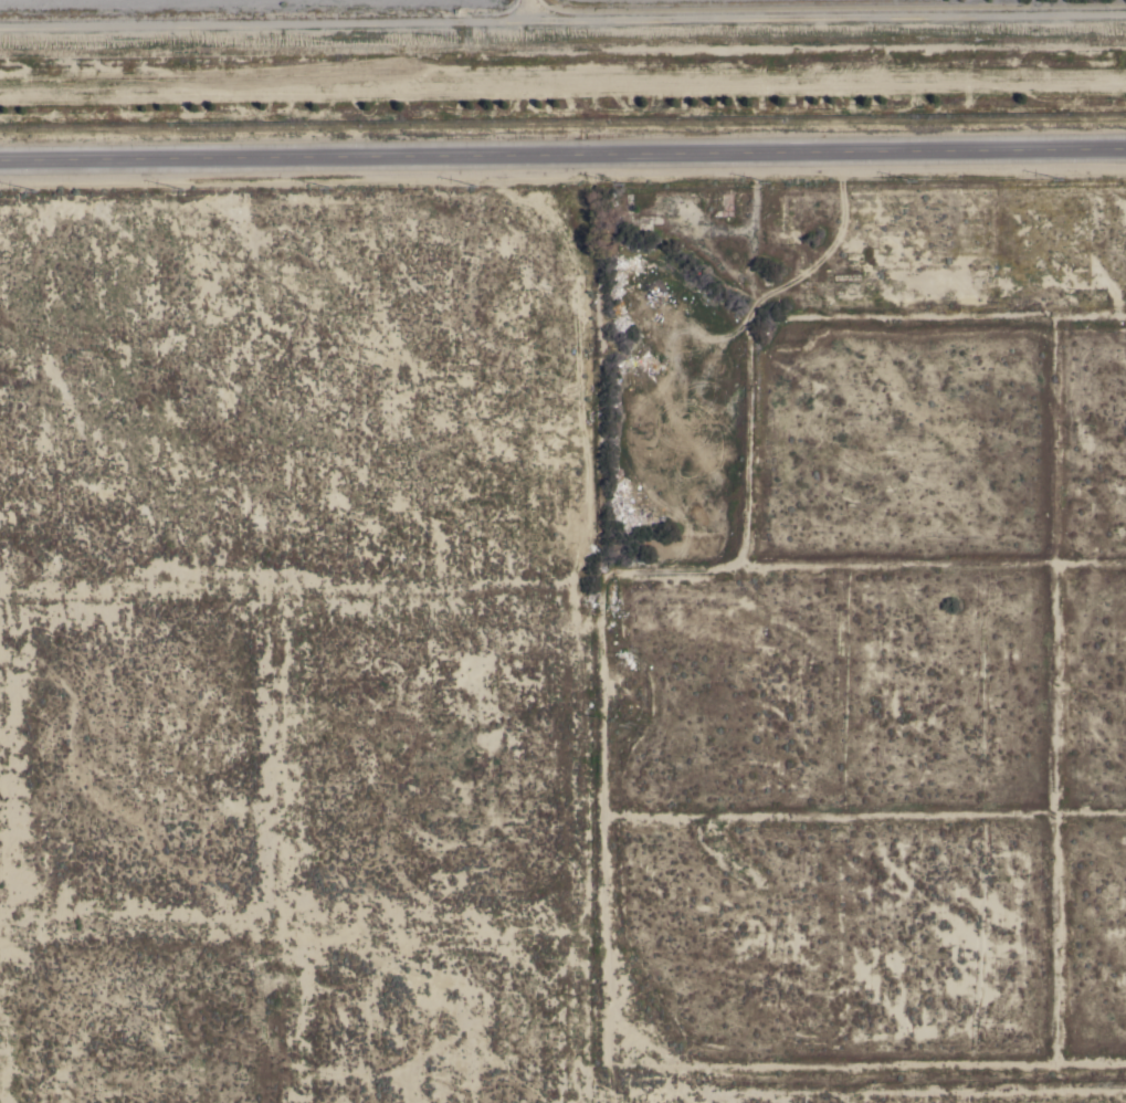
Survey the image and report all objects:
wastewater plant: (554, 59)
road: (562, 159)

